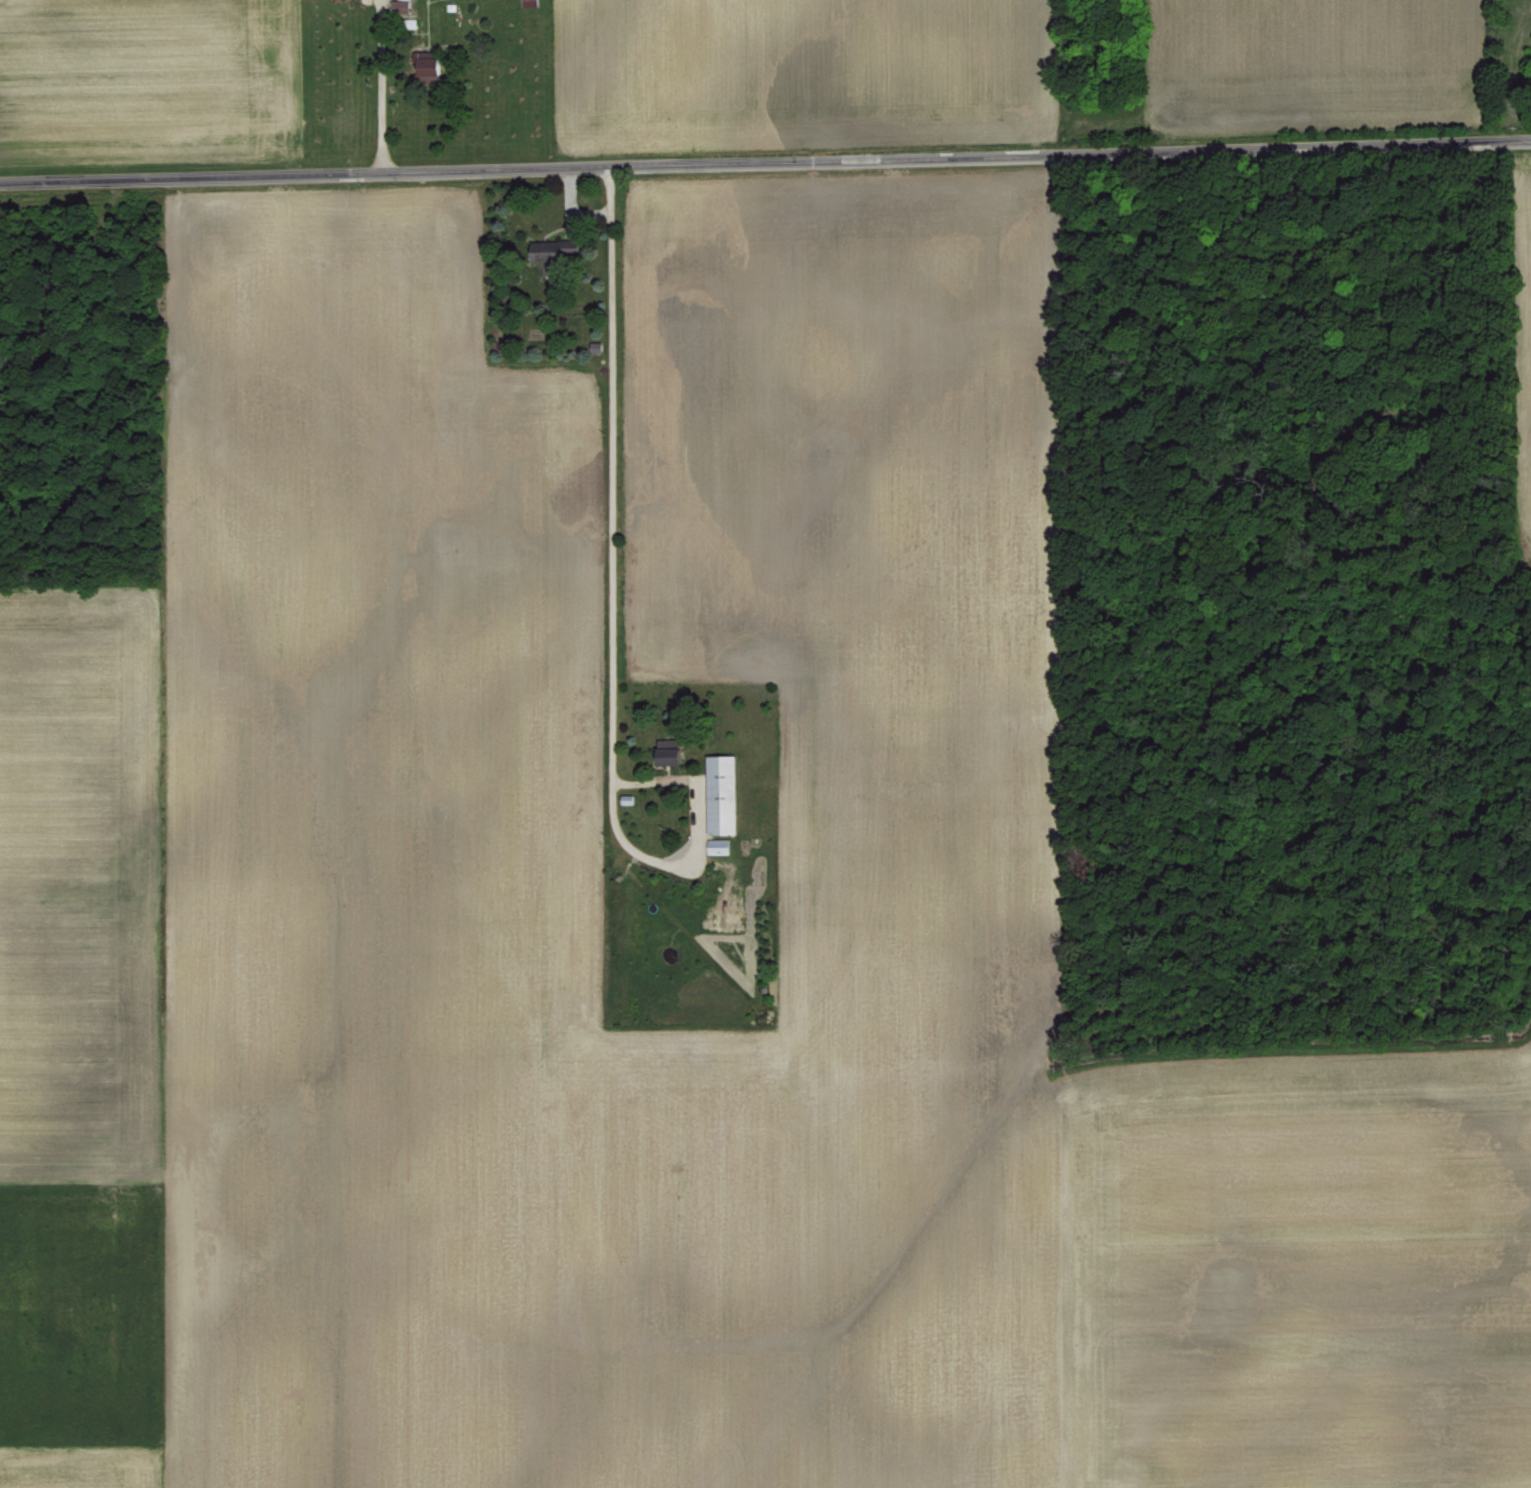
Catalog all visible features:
building: (401, 5)
building: (433, 66)
road: (379, 84)
road: (765, 160)
road: (610, 501)
building: (673, 755)
building: (723, 792)
building: (719, 844)

